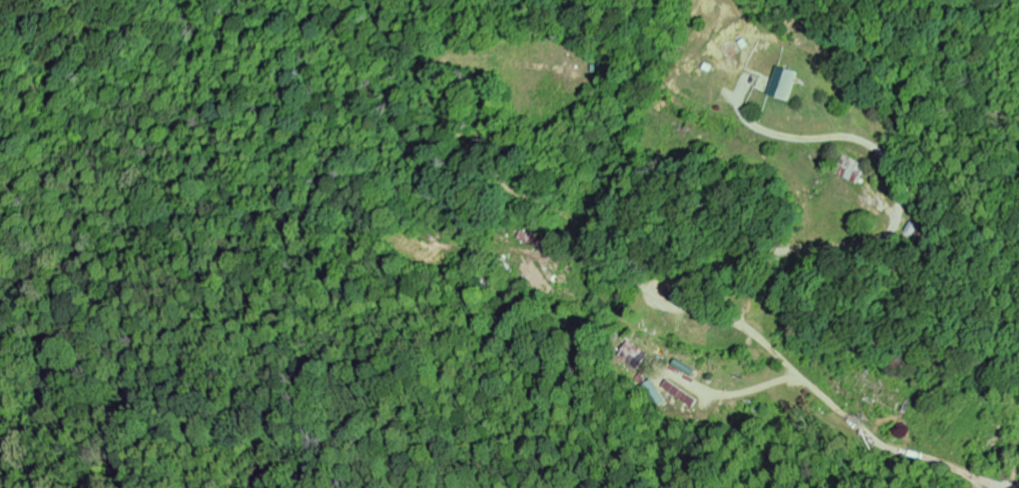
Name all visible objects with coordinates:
building: (788, 85)
building: (852, 175)
building: (689, 369)
building: (686, 395)

